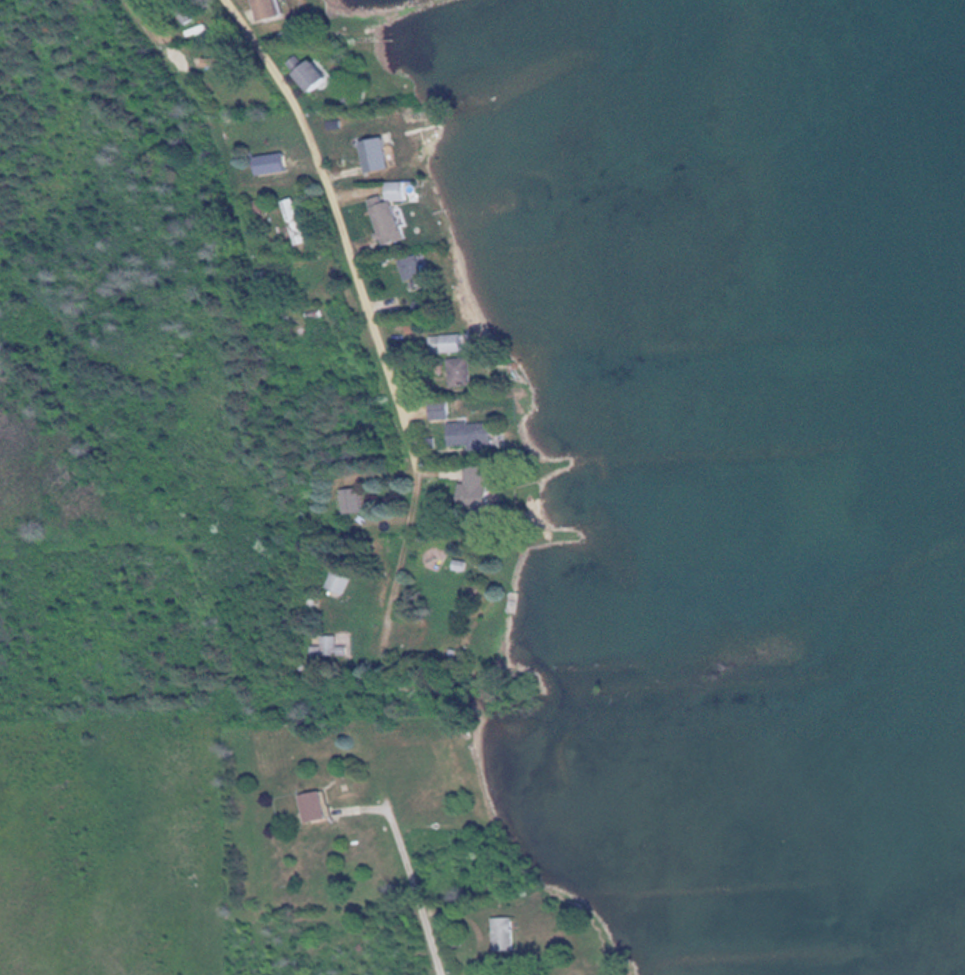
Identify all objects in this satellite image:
building: (282, 9)
building: (321, 75)
road: (232, 180)
building: (397, 220)
building: (304, 221)
building: (420, 269)
road: (368, 312)
building: (455, 343)
building: (464, 371)
building: (470, 435)
building: (484, 488)
building: (358, 499)
building: (347, 580)
building: (323, 805)
road: (412, 882)
building: (510, 933)
building: (534, 973)

